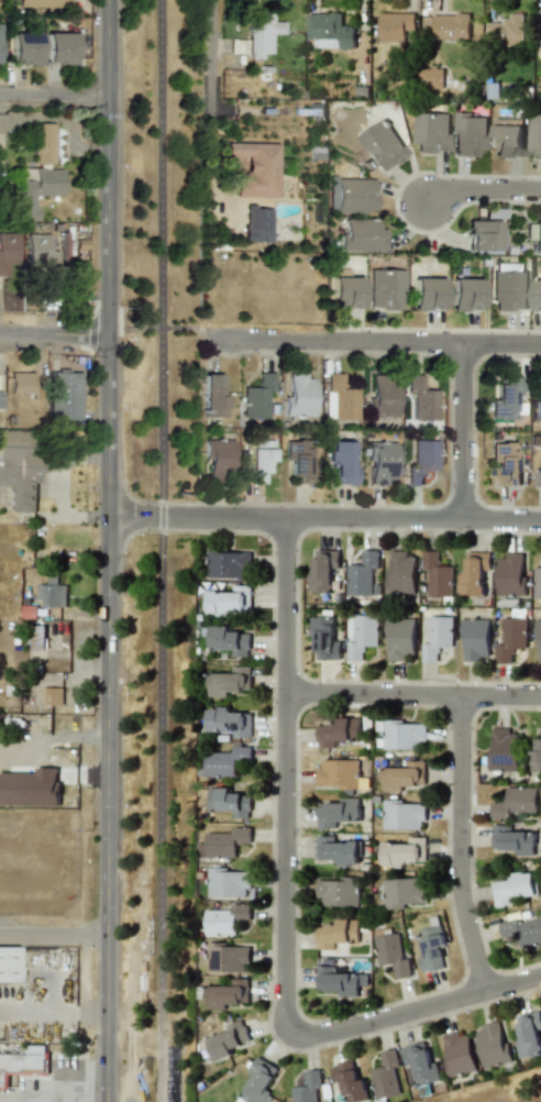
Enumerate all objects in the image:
building: (43, 3)
building: (539, 22)
building: (394, 25)
building: (450, 25)
building: (329, 30)
building: (505, 31)
building: (261, 33)
building: (0, 48)
building: (24, 48)
building: (59, 48)
building: (430, 76)
road: (53, 93)
road: (212, 93)
building: (506, 121)
building: (430, 132)
building: (467, 134)
building: (533, 135)
building: (507, 141)
building: (43, 143)
building: (382, 144)
building: (252, 167)
building: (35, 188)
road: (481, 190)
building: (351, 195)
building: (256, 223)
building: (484, 234)
building: (361, 235)
building: (536, 238)
building: (40, 251)
building: (8, 252)
building: (385, 288)
building: (509, 289)
building: (344, 291)
building: (426, 293)
building: (464, 294)
building: (537, 295)
road: (53, 331)
road: (384, 345)
building: (20, 383)
building: (298, 395)
building: (339, 395)
building: (380, 395)
building: (64, 396)
building: (211, 396)
building: (256, 396)
building: (504, 397)
building: (420, 398)
building: (539, 398)
road: (461, 434)
building: (297, 458)
building: (258, 459)
building: (380, 461)
building: (421, 461)
building: (341, 462)
building: (504, 463)
building: (19, 466)
building: (538, 473)
road: (323, 522)
road: (107, 551)
road: (161, 551)
building: (229, 563)
building: (322, 571)
building: (401, 572)
building: (474, 572)
building: (361, 575)
building: (437, 575)
building: (510, 575)
building: (537, 582)
building: (52, 593)
building: (230, 600)
building: (362, 636)
building: (437, 637)
building: (511, 637)
building: (323, 638)
building: (400, 638)
building: (475, 639)
building: (538, 639)
building: (228, 640)
building: (229, 681)
building: (52, 696)
road: (412, 696)
building: (229, 721)
building: (336, 731)
building: (400, 734)
building: (503, 749)
building: (536, 753)
building: (227, 760)
building: (338, 773)
building: (402, 775)
building: (30, 787)
building: (515, 801)
building: (229, 802)
building: (336, 812)
building: (404, 815)
building: (512, 840)
building: (223, 842)
road: (460, 847)
building: (336, 850)
building: (406, 851)
building: (227, 882)
building: (514, 888)
building: (338, 891)
building: (401, 892)
road: (285, 912)
building: (225, 918)
building: (522, 930)
building: (336, 933)
road: (54, 937)
building: (431, 948)
building: (391, 954)
building: (228, 957)
building: (8, 965)
building: (339, 981)
building: (227, 993)
road: (53, 1012)
building: (529, 1034)
building: (228, 1040)
building: (493, 1045)
building: (459, 1054)
building: (422, 1062)
building: (23, 1064)
building: (386, 1075)
building: (261, 1081)
building: (350, 1081)
building: (308, 1087)
road: (57, 1094)
road: (73, 1098)
building: (243, 1100)

